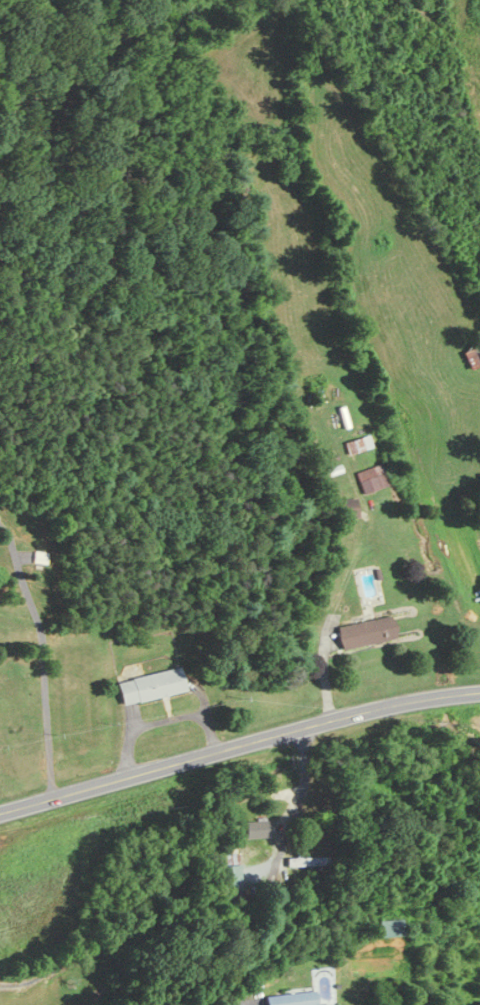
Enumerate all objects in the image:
building: (472, 358)
building: (356, 445)
building: (370, 479)
building: (346, 509)
building: (364, 632)
building: (148, 685)
road: (238, 745)
building: (257, 829)
building: (307, 861)
road: (276, 866)
building: (226, 872)
building: (291, 999)

